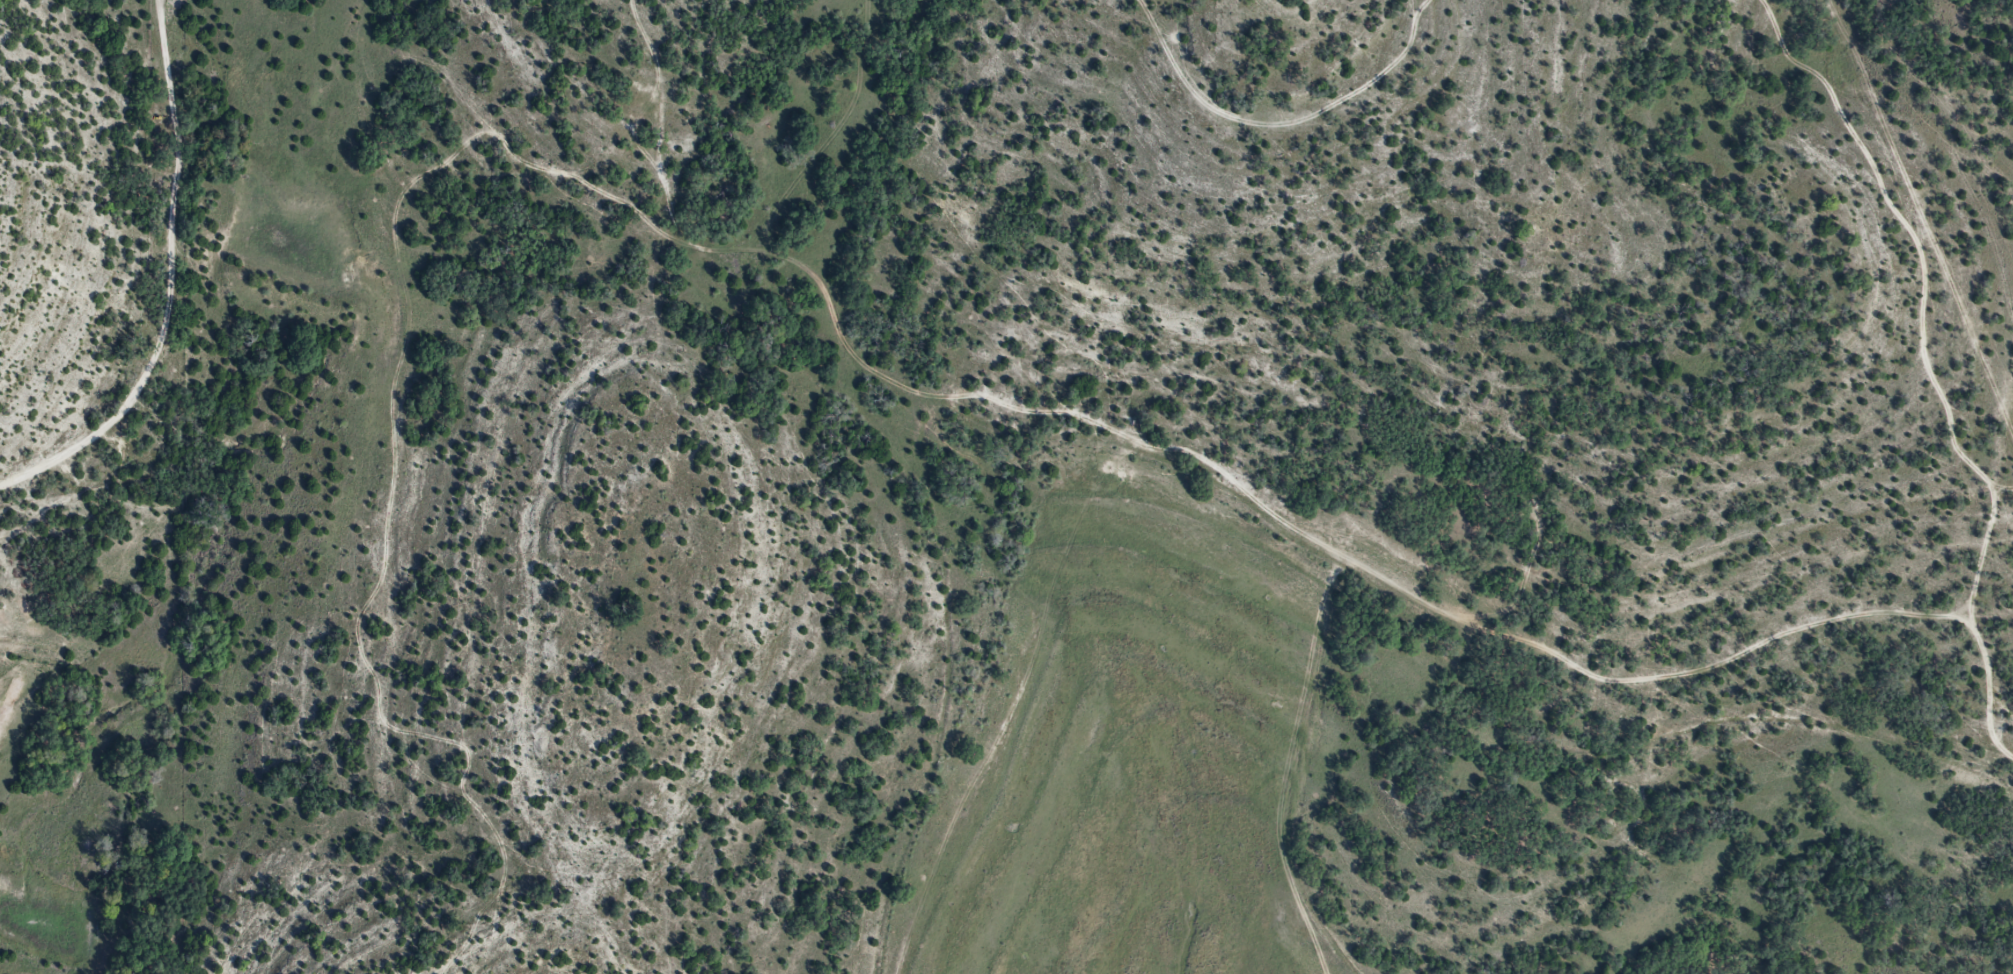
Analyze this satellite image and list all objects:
road: (177, 288)

